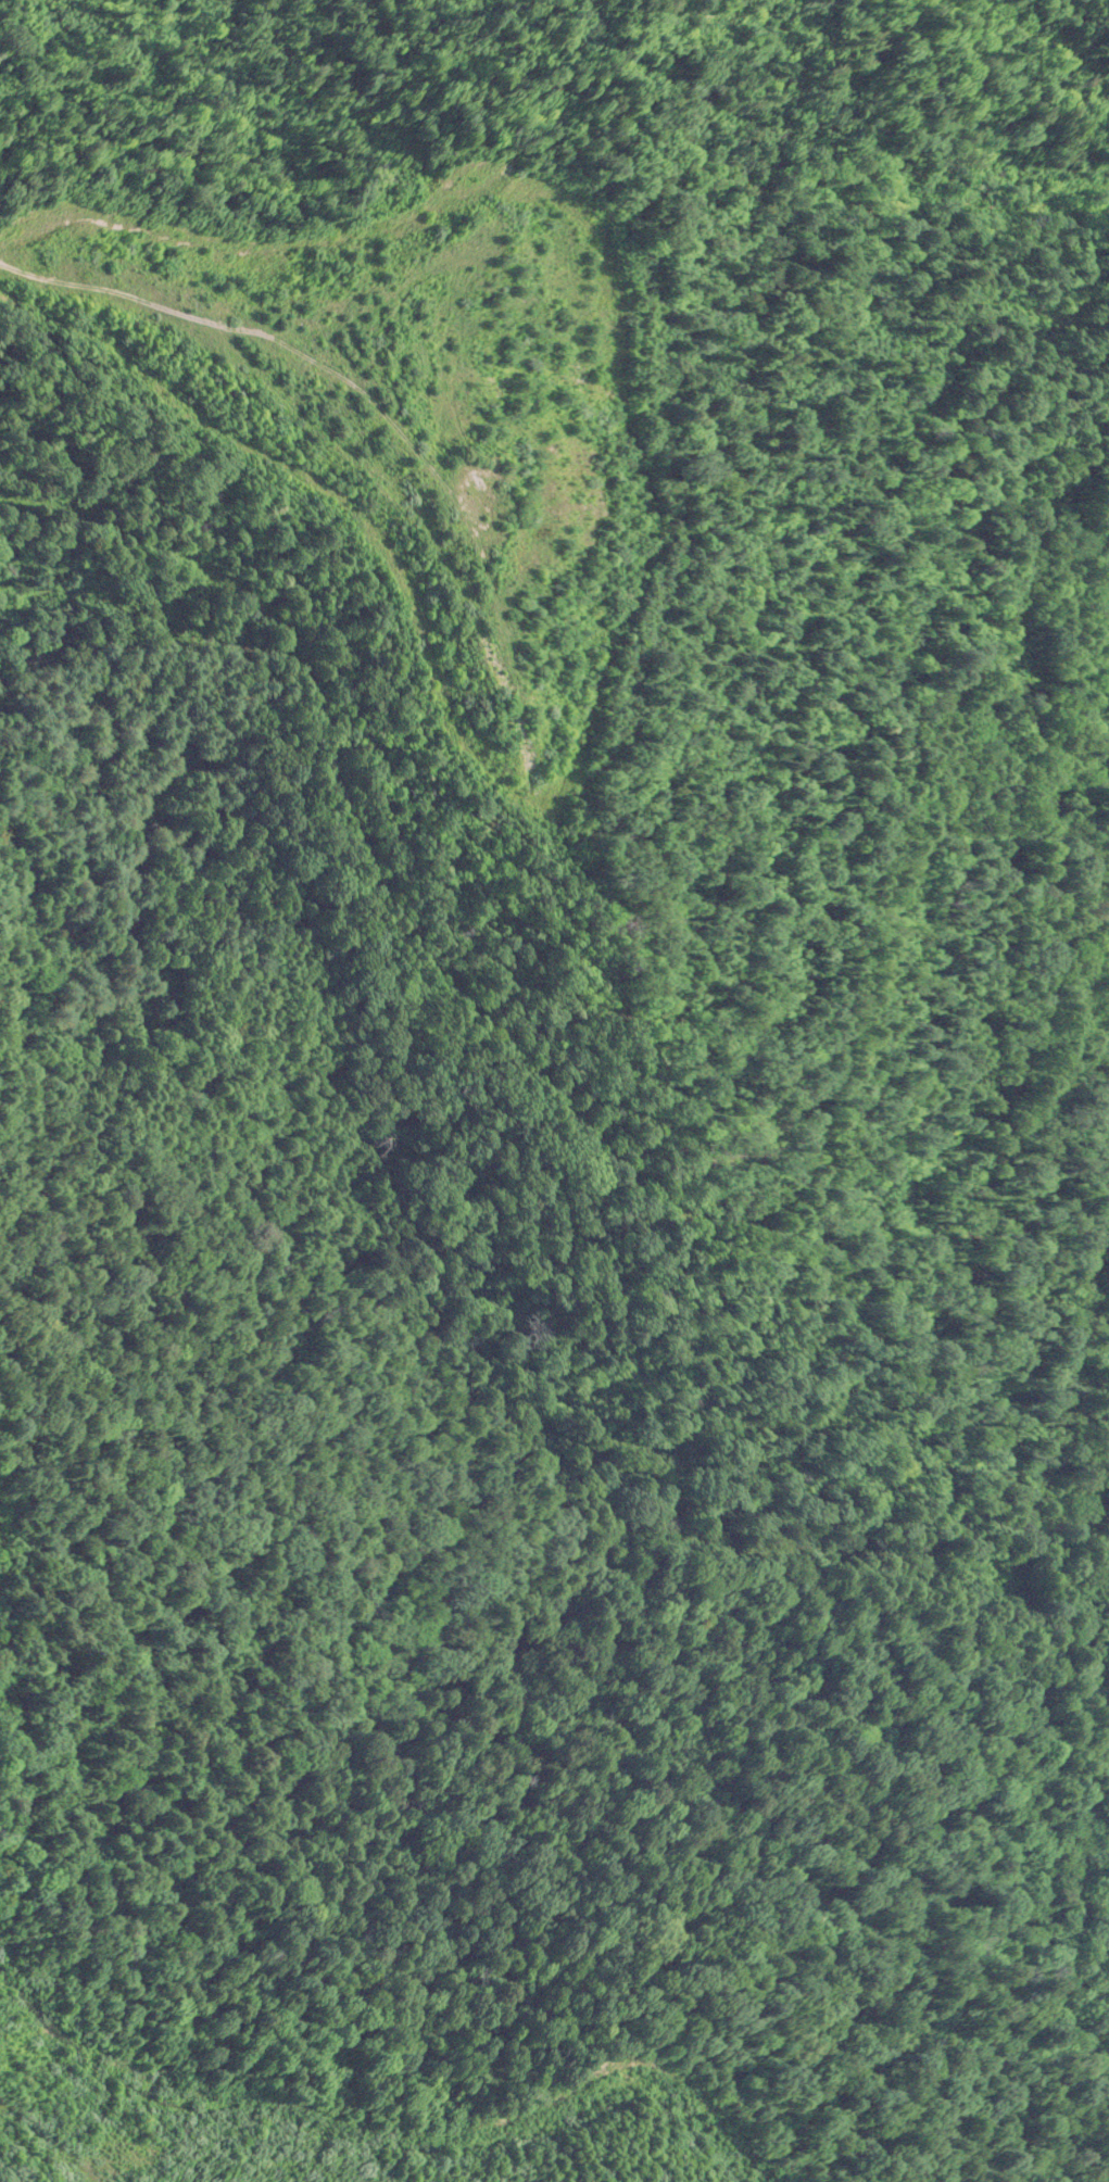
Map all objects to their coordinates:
road: (1020, 1358)

